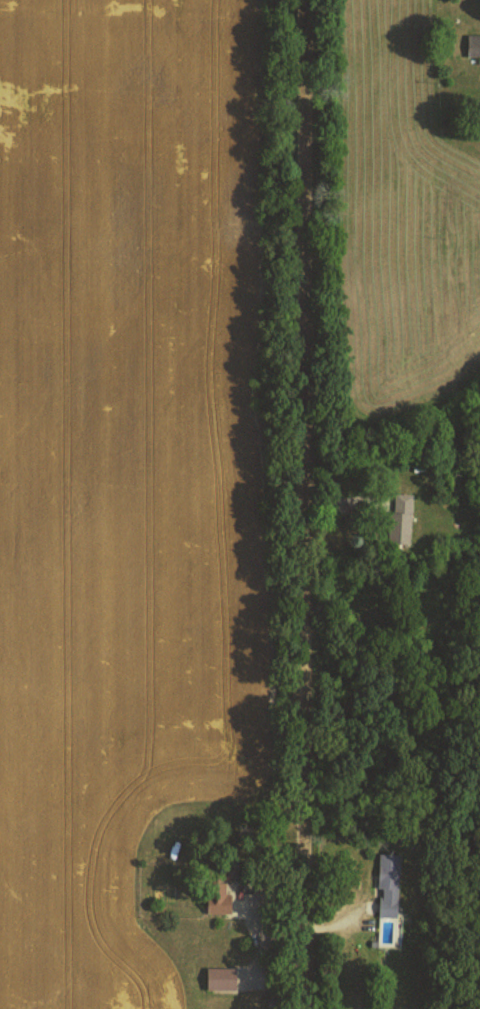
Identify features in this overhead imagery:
building: (473, 44)
road: (307, 504)
building: (401, 517)
building: (388, 884)
building: (220, 893)
building: (221, 978)

